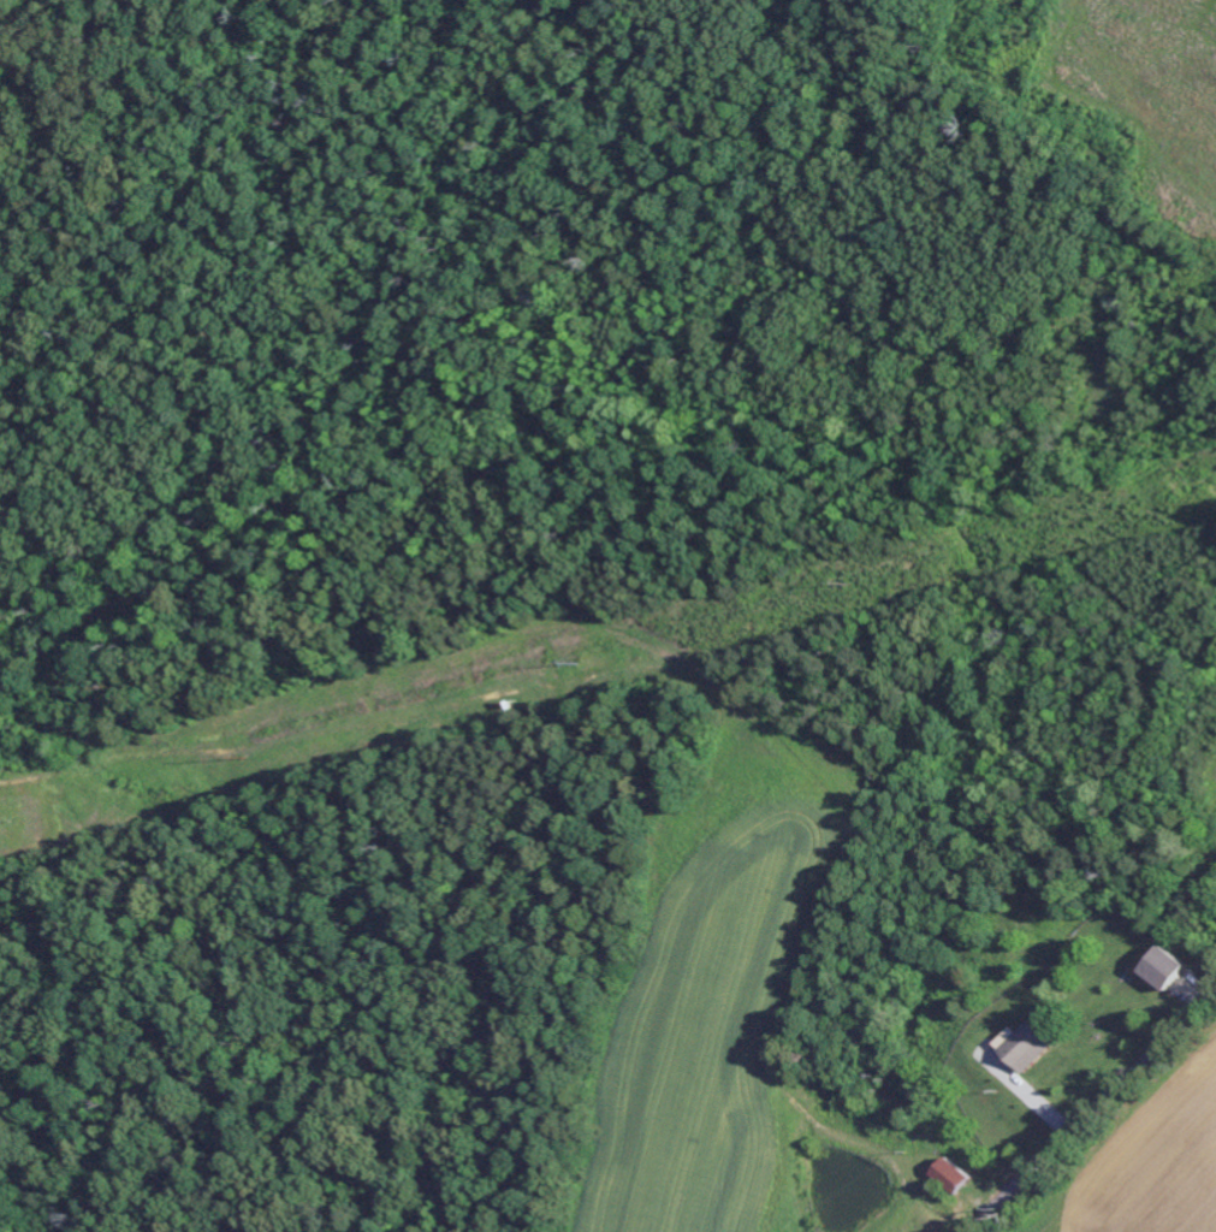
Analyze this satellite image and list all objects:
building: (1163, 969)
building: (1024, 1047)
road: (1093, 1112)
building: (953, 1177)

